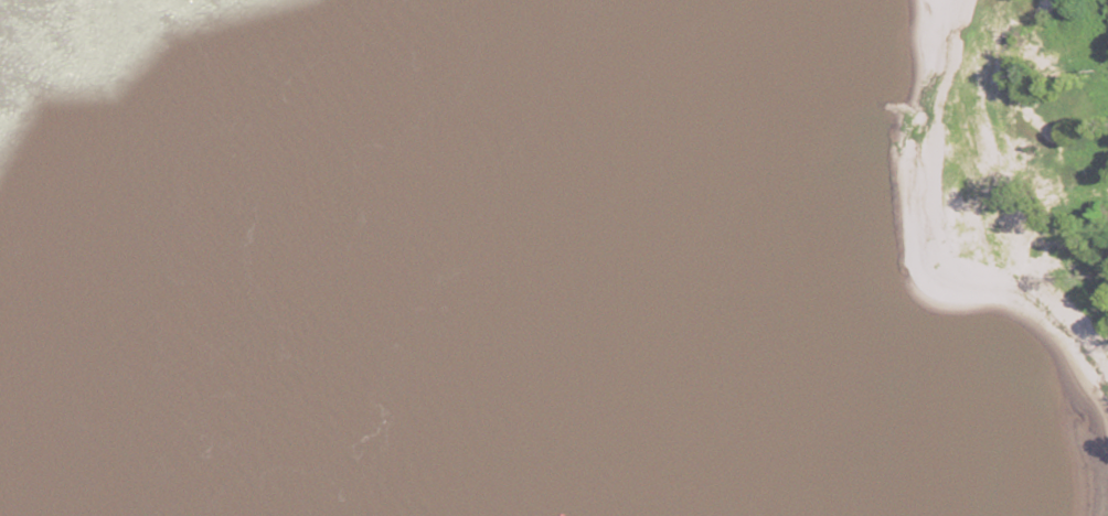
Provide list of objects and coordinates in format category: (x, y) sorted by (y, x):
river: (2, 6)

